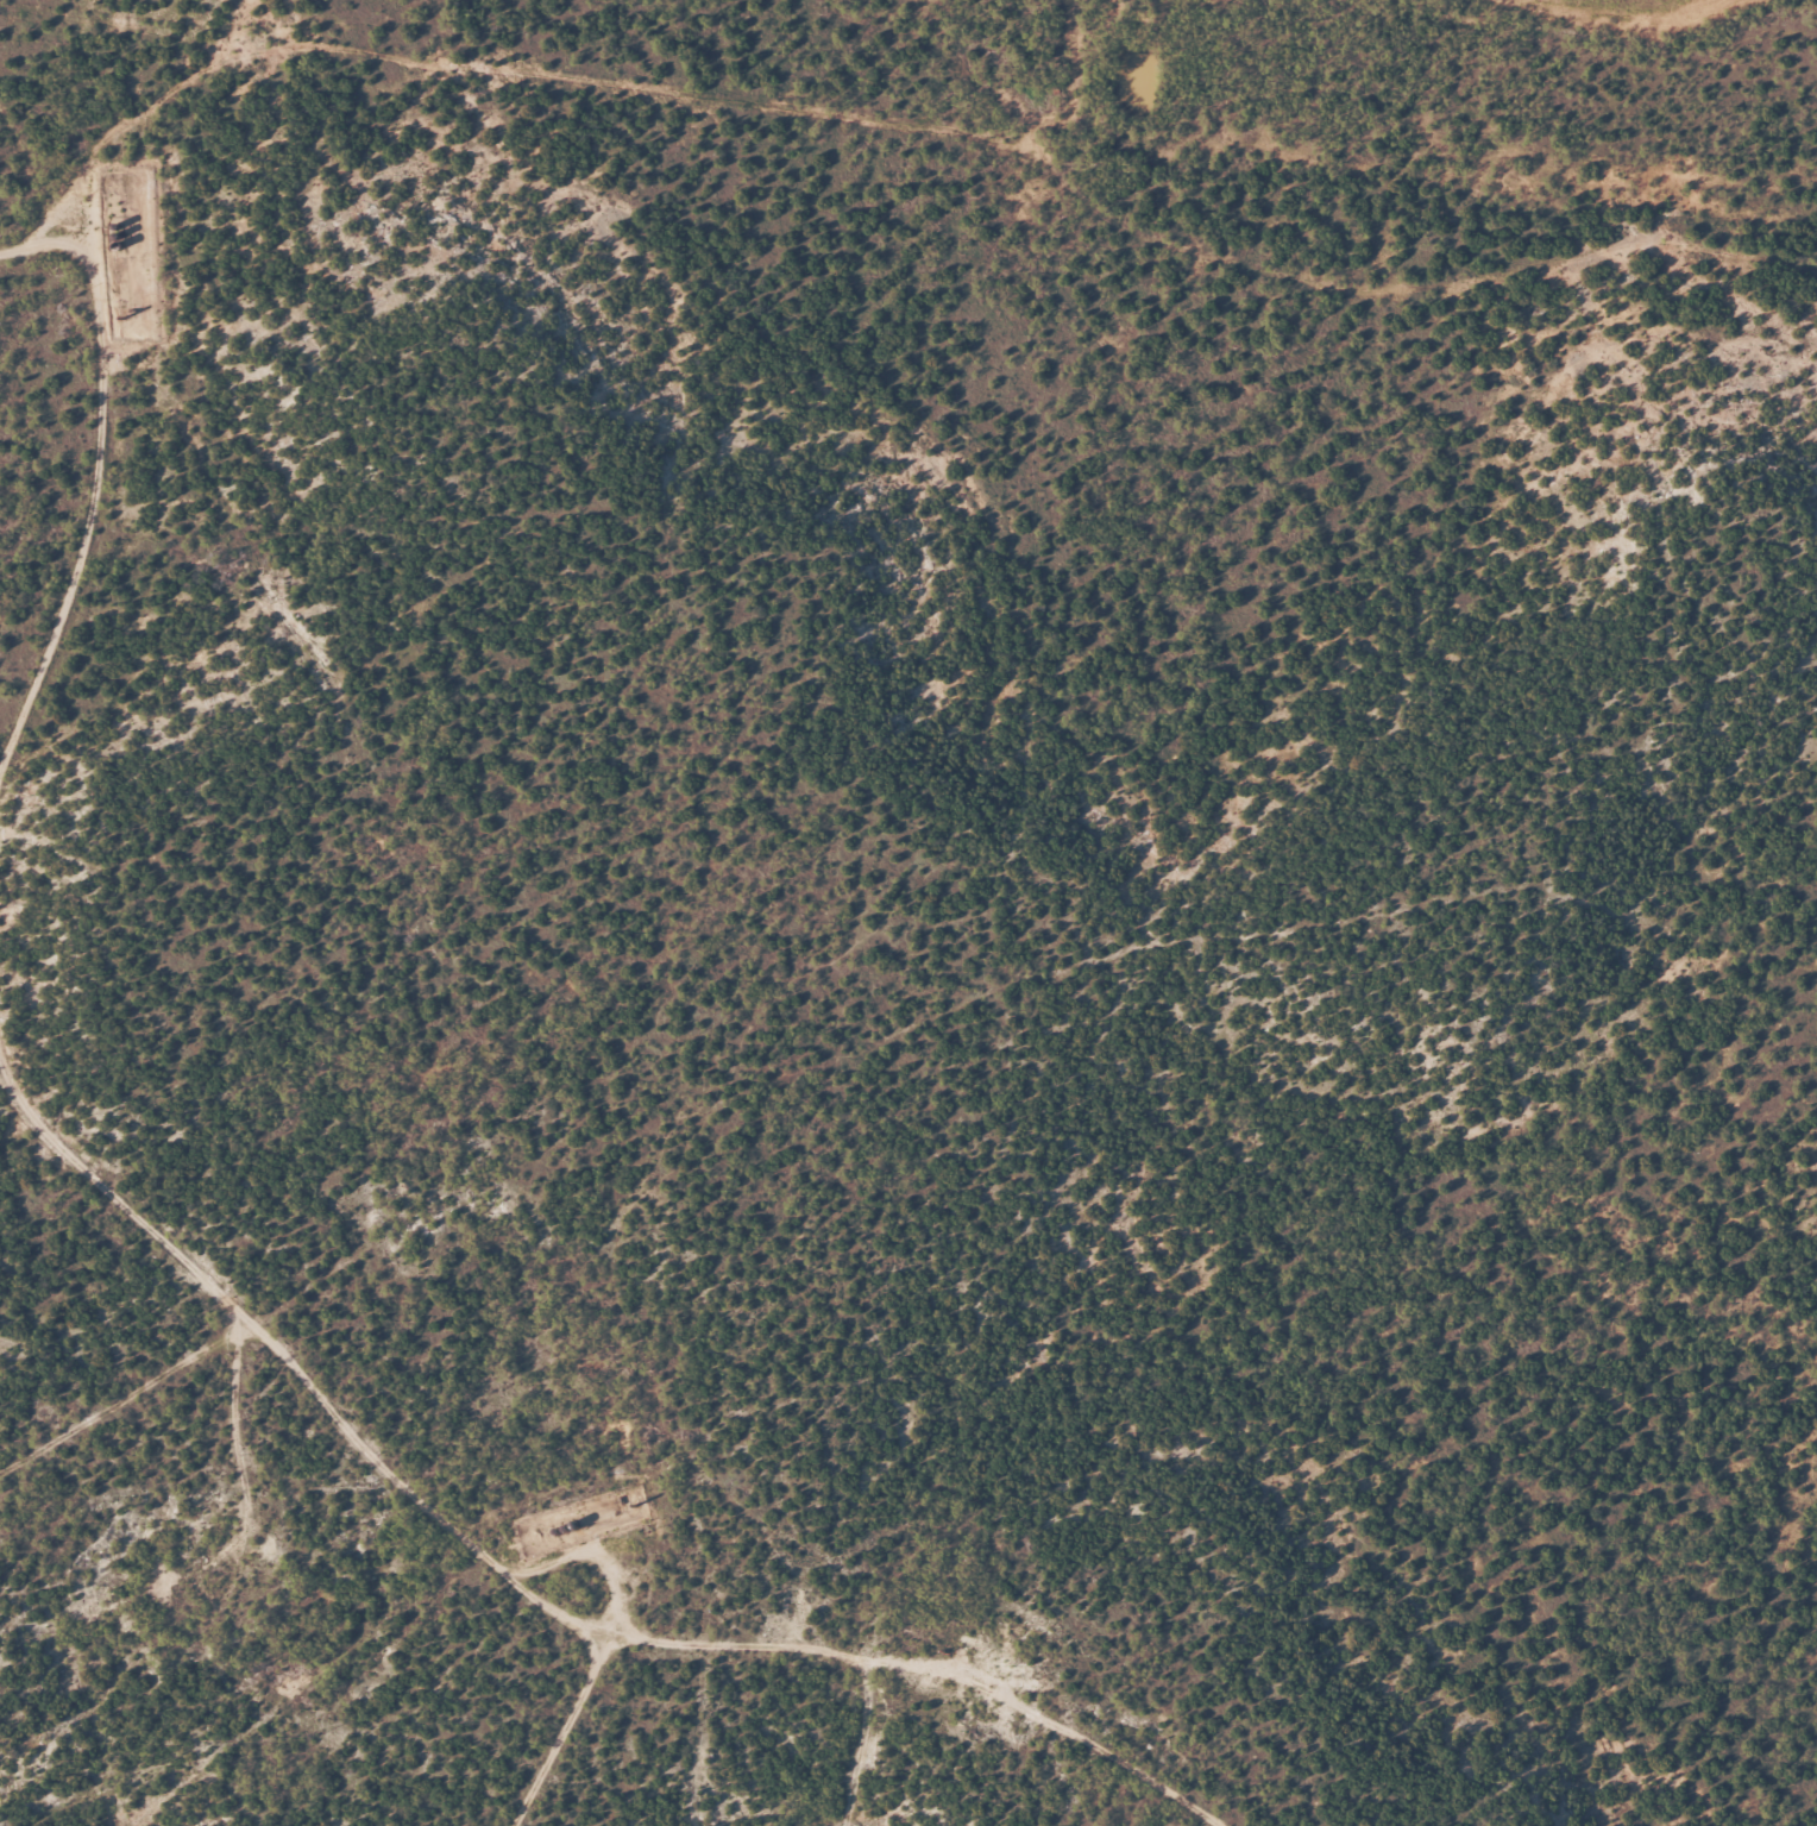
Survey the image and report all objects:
road: (1313, 307)
road: (42, 1117)

